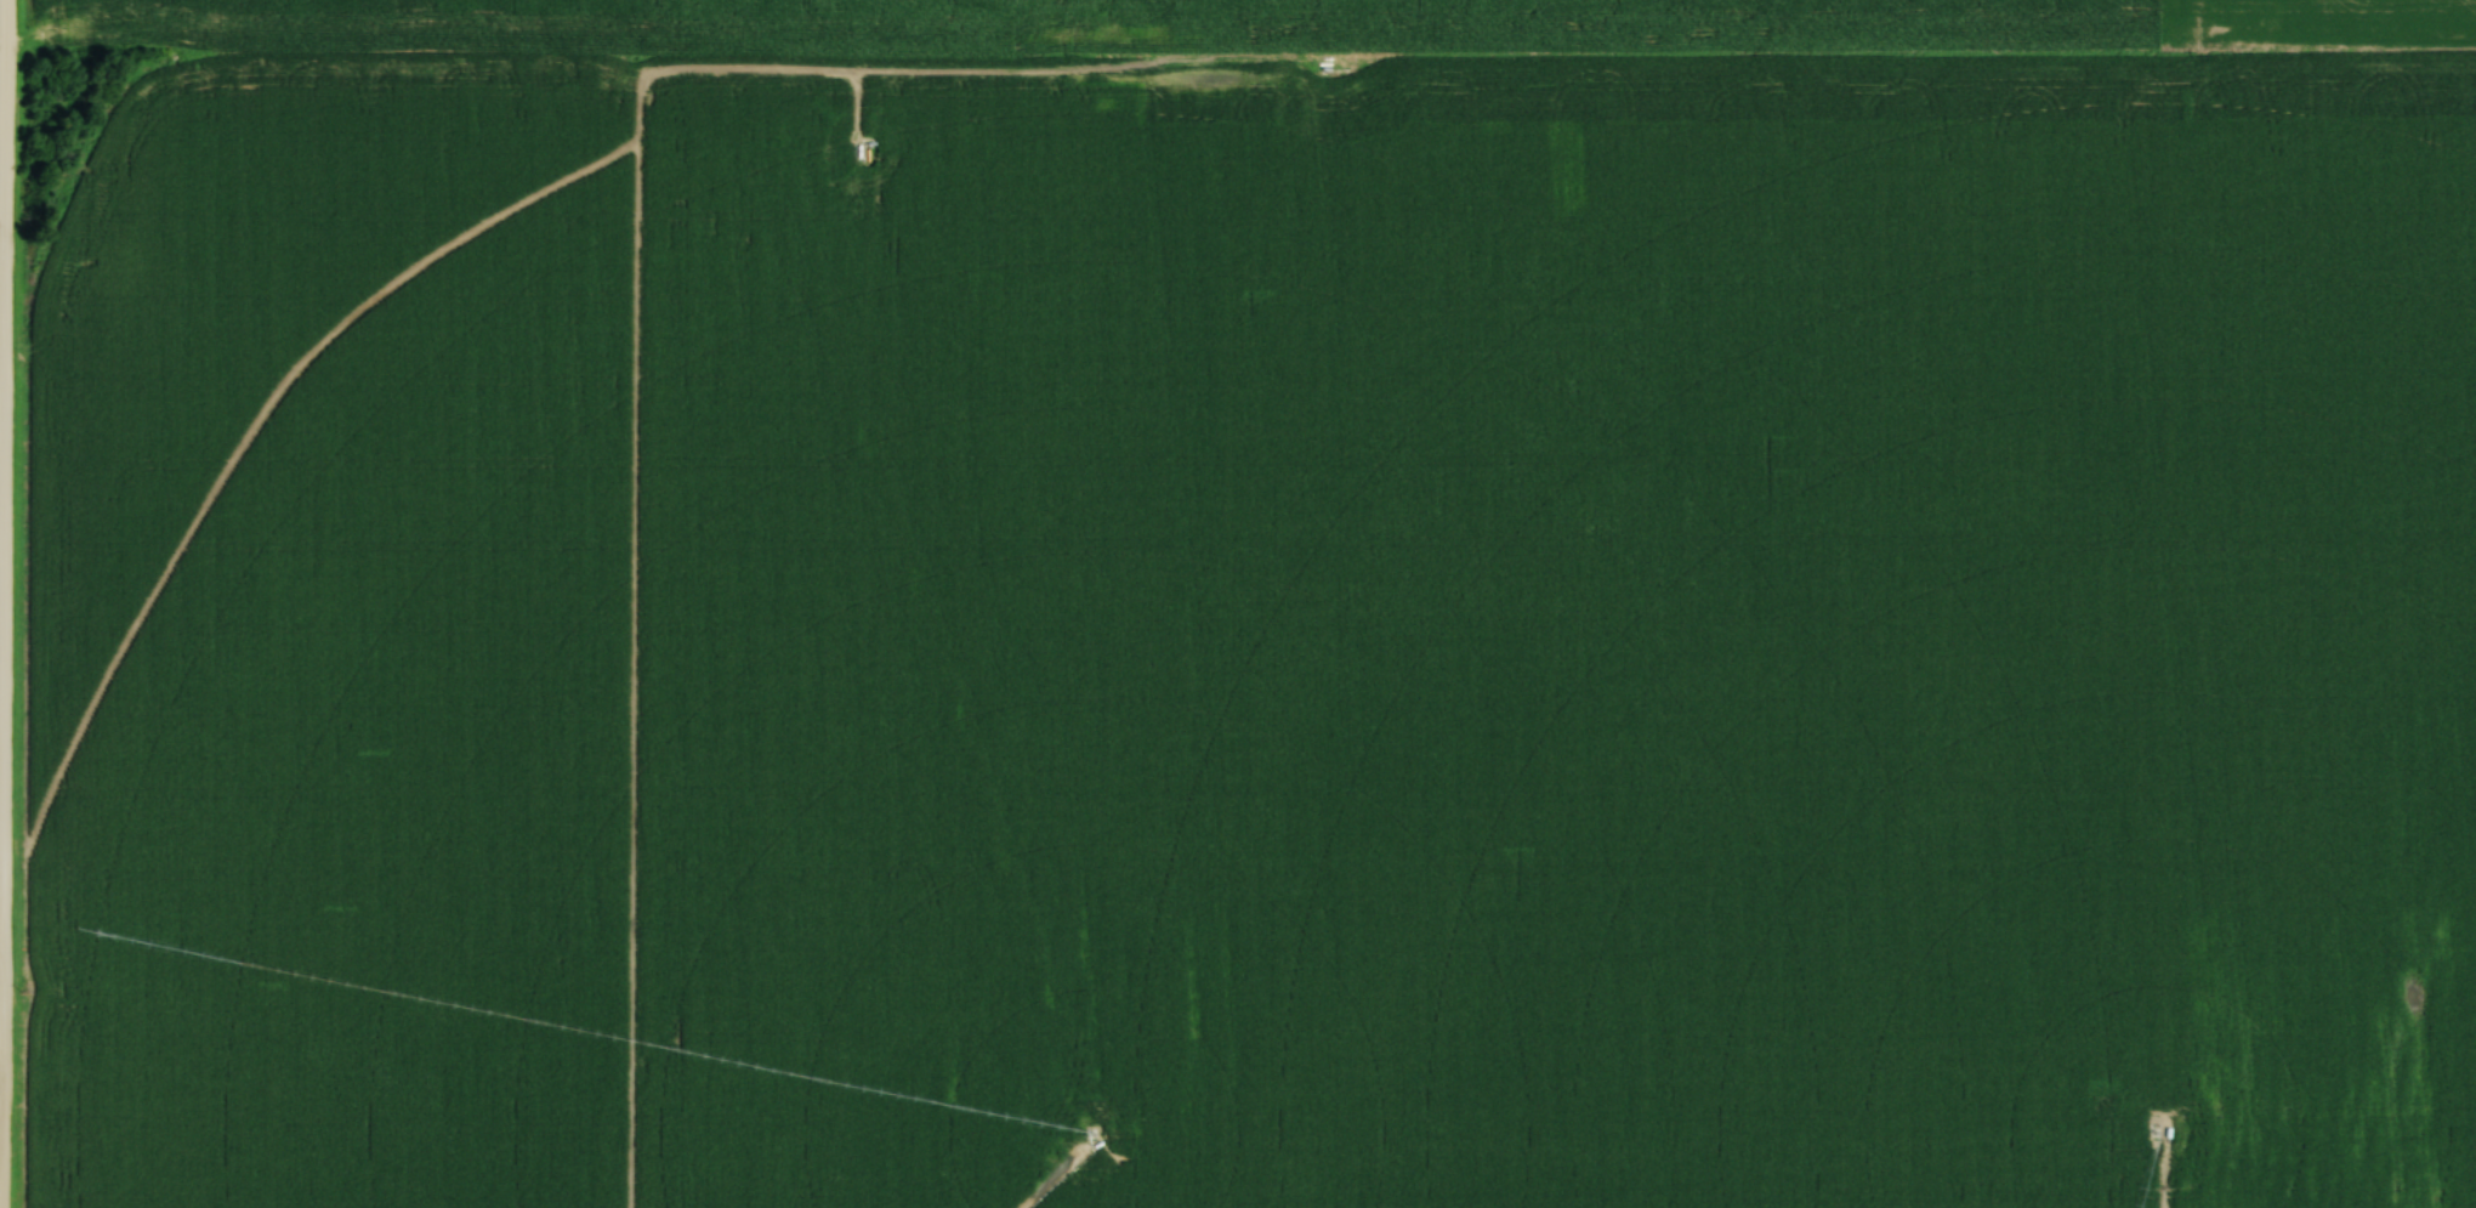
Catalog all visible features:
road: (4, 590)
road: (2, 924)
road: (0, 1128)

